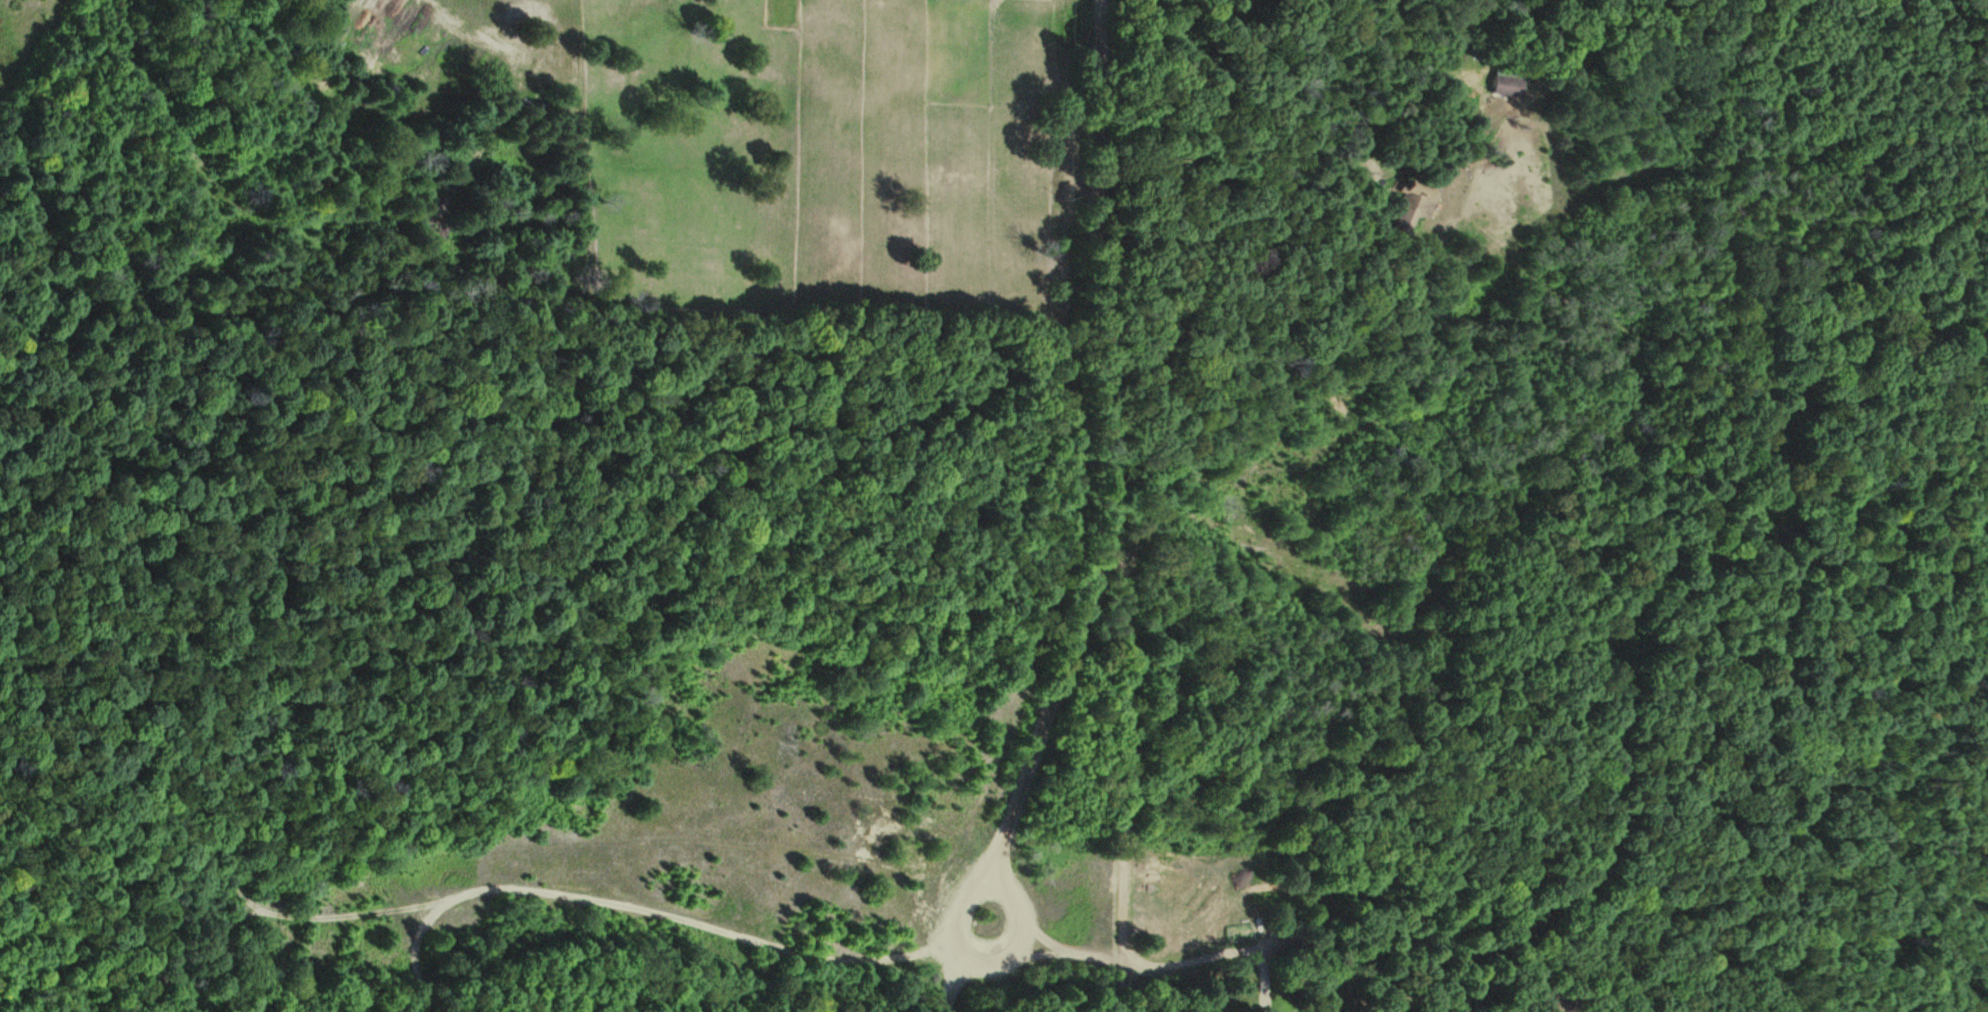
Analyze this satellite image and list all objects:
building: (1504, 83)
road: (1318, 187)
road: (1376, 195)
building: (1412, 204)
road: (1105, 523)
road: (245, 894)
road: (570, 896)
road: (1049, 938)
road: (1023, 941)
road: (421, 950)
road: (1047, 957)
road: (1177, 961)
road: (1267, 979)
road: (971, 980)
road: (1129, 986)

